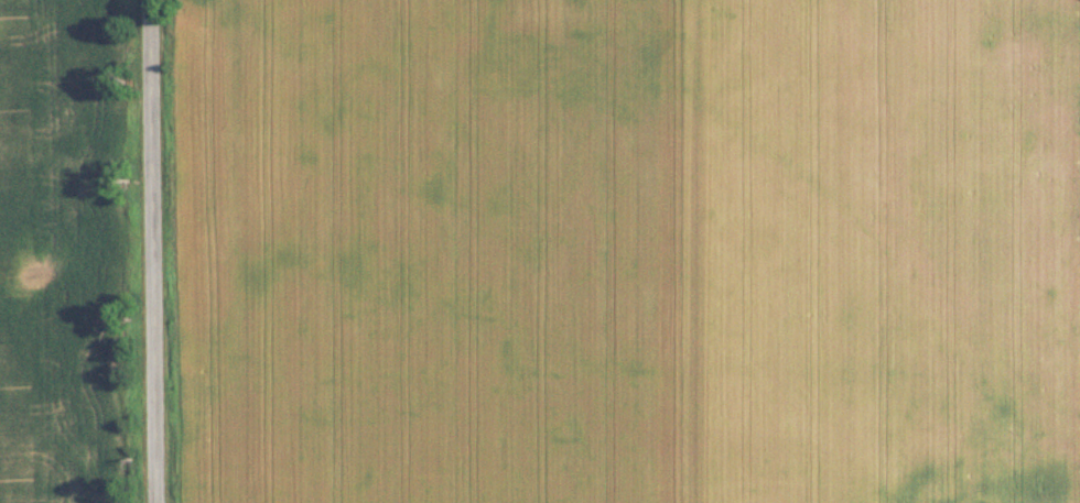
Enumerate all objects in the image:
road: (162, 251)

